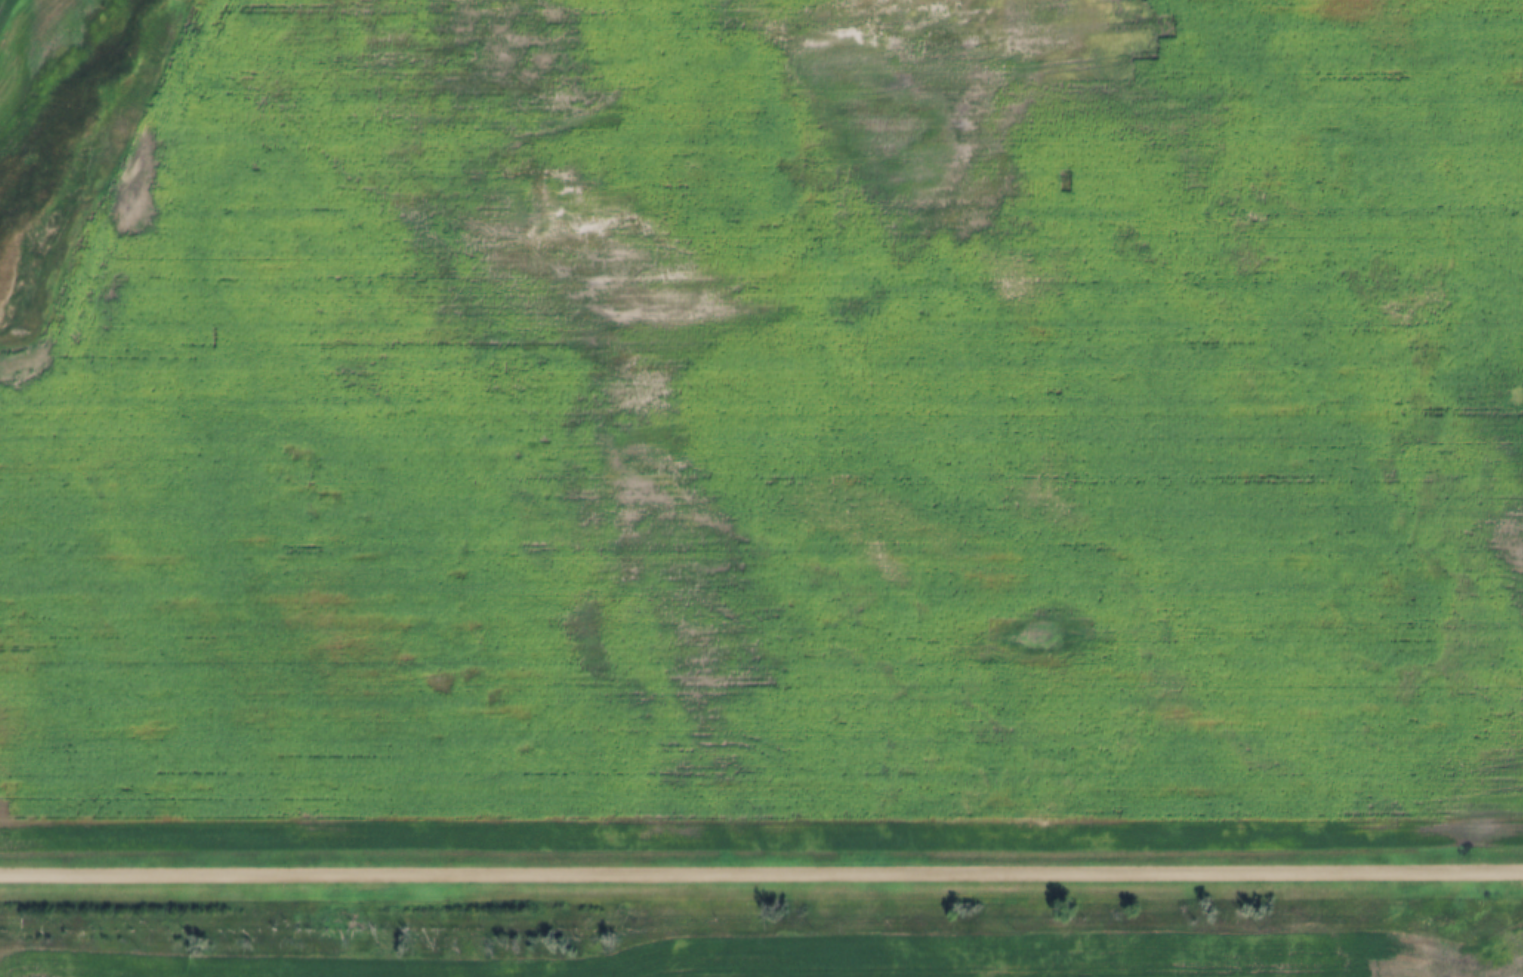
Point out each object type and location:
road: (761, 868)

